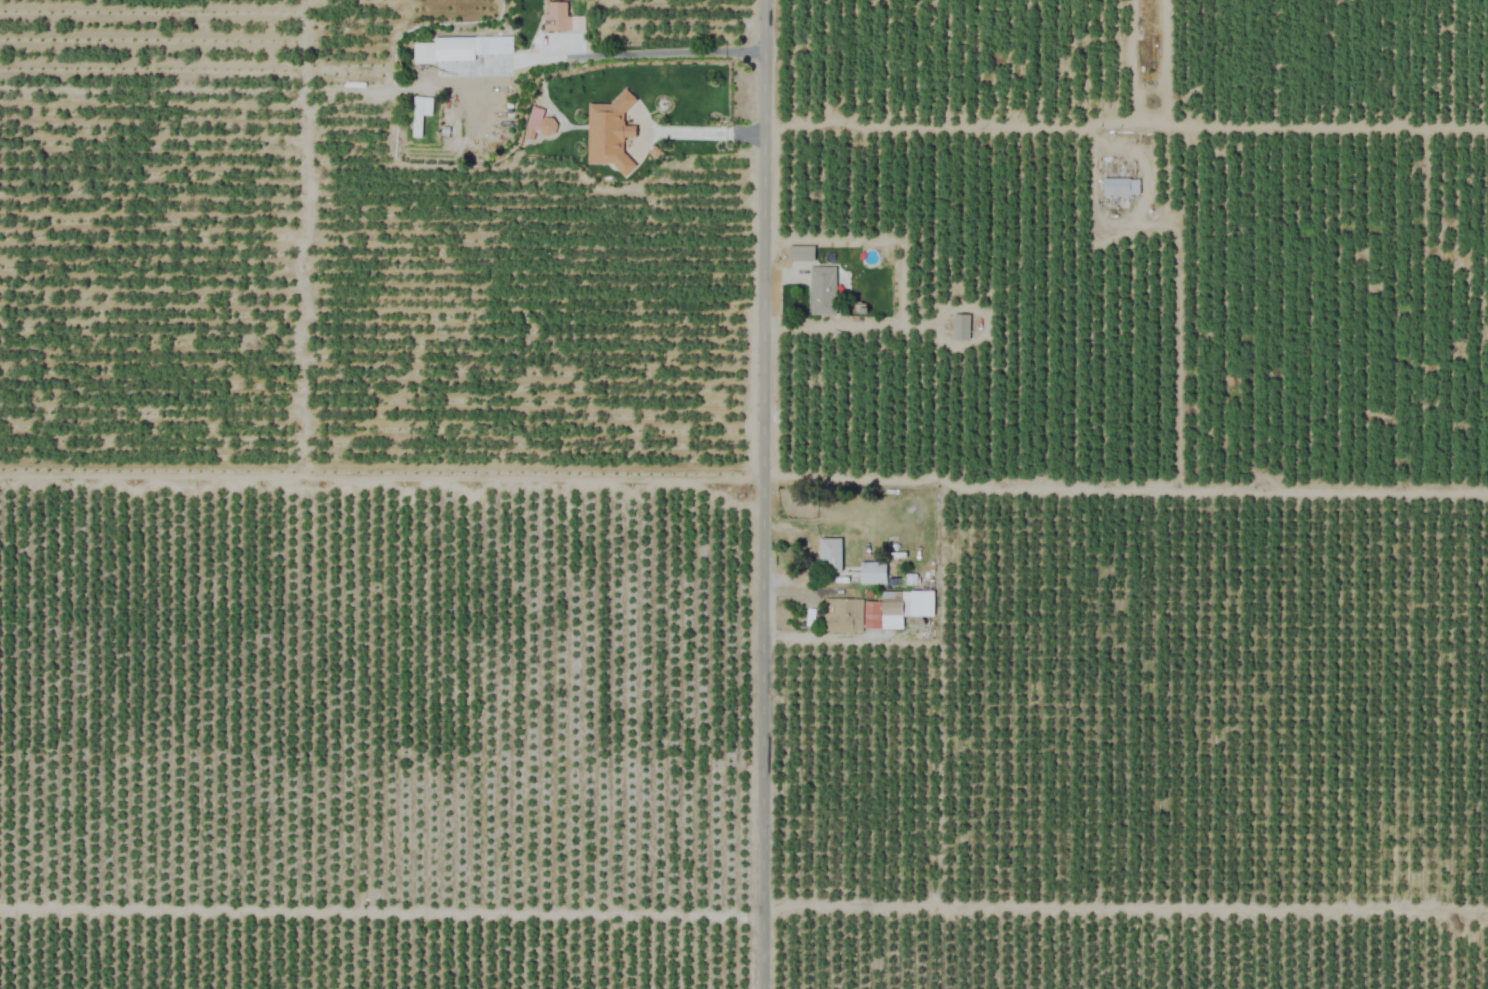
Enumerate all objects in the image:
building: (557, 16)
building: (470, 47)
road: (620, 54)
building: (421, 113)
road: (952, 126)
building: (608, 133)
building: (1120, 187)
building: (800, 253)
building: (822, 290)
building: (960, 326)
road: (761, 494)
building: (830, 555)
building: (873, 573)
building: (901, 604)
building: (842, 615)
road: (834, 638)

